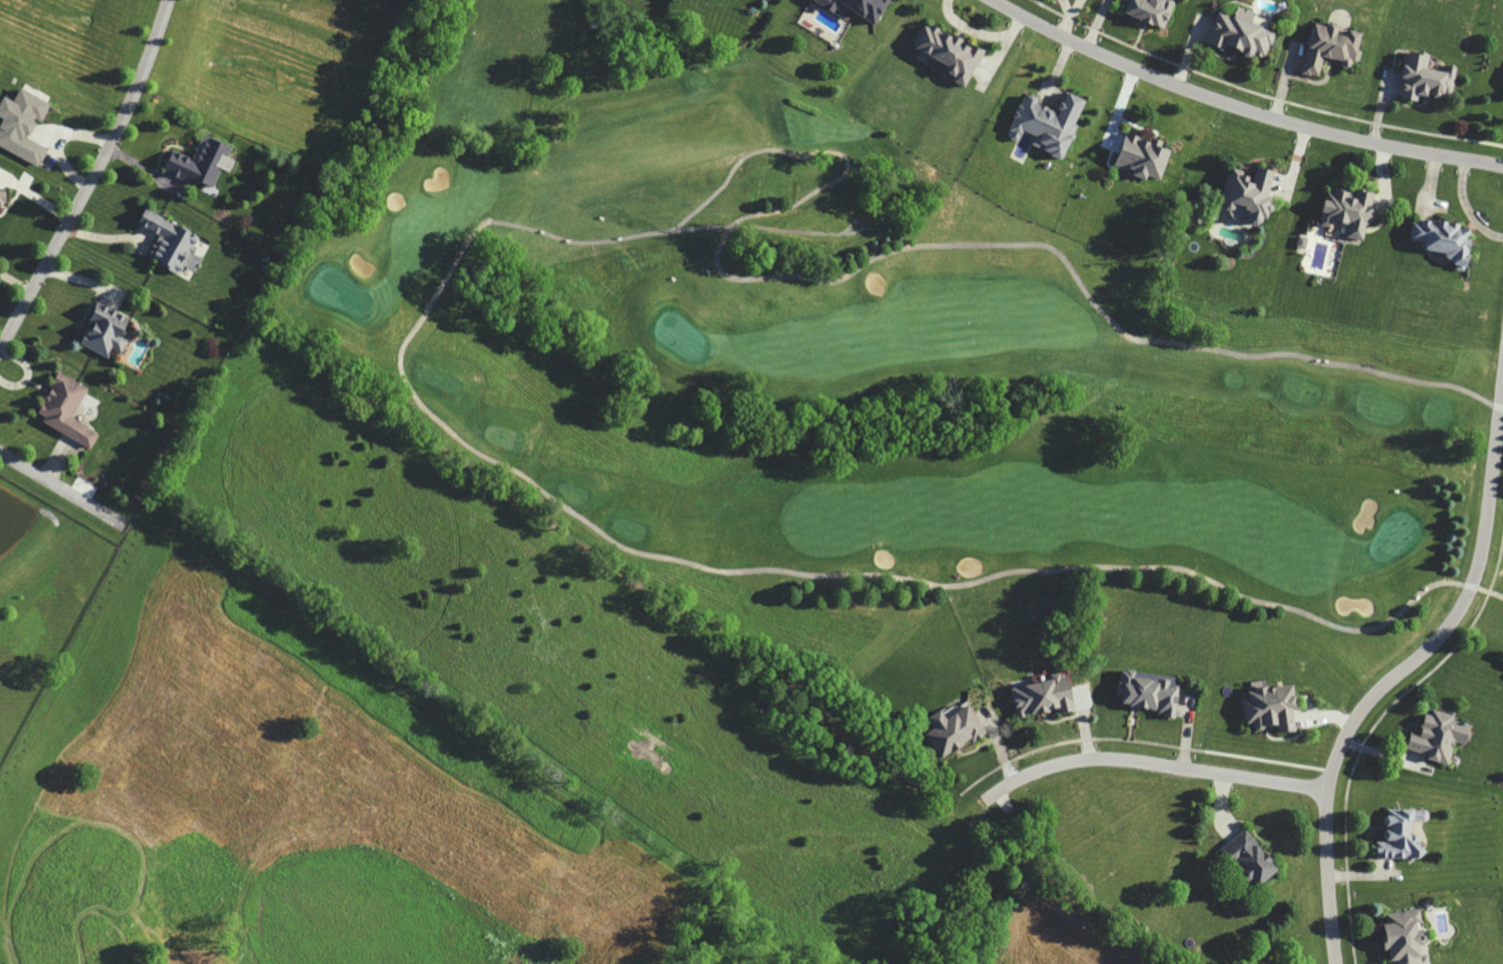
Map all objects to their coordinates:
building: (860, 9)
building: (1146, 10)
building: (1241, 32)
building: (1327, 46)
building: (944, 51)
building: (1424, 77)
road: (1240, 106)
building: (1045, 122)
building: (26, 127)
building: (1138, 155)
building: (199, 162)
road: (92, 176)
building: (1245, 193)
building: (2, 198)
building: (1346, 210)
building: (1440, 237)
building: (177, 245)
building: (111, 332)
park: (872, 376)
building: (71, 411)
road: (62, 488)
road: (1404, 667)
building: (1156, 692)
building: (1050, 696)
building: (1277, 706)
building: (961, 731)
building: (1445, 736)
road: (1151, 762)
building: (1408, 836)
building: (1257, 858)
building: (1411, 937)

